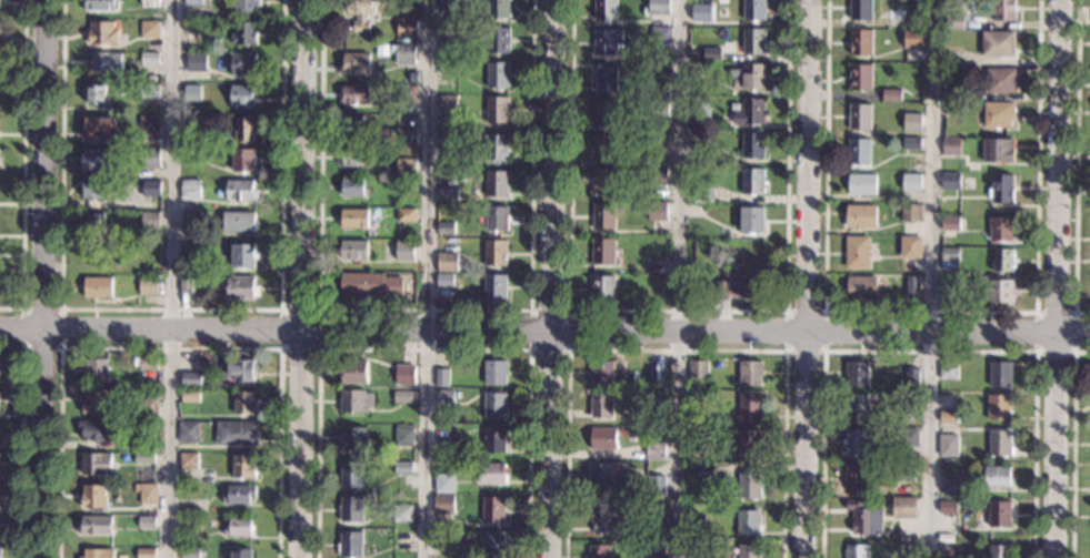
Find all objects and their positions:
building: (193, 2)
building: (150, 3)
building: (101, 4)
building: (243, 6)
building: (659, 7)
building: (447, 8)
building: (497, 9)
building: (604, 9)
building: (753, 9)
building: (861, 9)
building: (1004, 9)
building: (361, 12)
building: (701, 12)
building: (143, 16)
building: (894, 18)
building: (956, 21)
building: (191, 26)
building: (406, 28)
building: (150, 29)
building: (243, 32)
building: (448, 33)
building: (102, 34)
building: (660, 37)
building: (913, 38)
building: (498, 40)
building: (606, 41)
building: (752, 41)
building: (860, 41)
building: (998, 43)
building: (404, 53)
building: (711, 53)
building: (953, 55)
building: (150, 58)
building: (107, 61)
building: (196, 61)
building: (242, 63)
building: (354, 63)
building: (448, 67)
building: (660, 73)
building: (498, 74)
building: (749, 75)
building: (860, 77)
building: (606, 78)
building: (1001, 80)
building: (659, 90)
building: (191, 92)
building: (408, 93)
building: (961, 93)
building: (150, 94)
building: (242, 94)
building: (356, 94)
building: (891, 94)
building: (94, 95)
building: (447, 103)
building: (659, 108)
building: (699, 108)
building: (497, 109)
building: (749, 111)
building: (603, 113)
building: (998, 113)
building: (859, 116)
building: (912, 121)
building: (149, 124)
building: (354, 124)
building: (196, 125)
building: (100, 129)
building: (243, 129)
building: (406, 136)
building: (447, 140)
building: (658, 141)
building: (911, 143)
building: (752, 145)
building: (951, 145)
building: (496, 146)
building: (604, 146)
building: (999, 150)
building: (859, 151)
building: (192, 154)
building: (354, 156)
building: (149, 158)
building: (100, 159)
building: (243, 160)
road: (23, 164)
road: (1076, 164)
building: (406, 166)
building: (656, 173)
building: (951, 180)
building: (603, 181)
building: (752, 181)
building: (911, 182)
building: (496, 183)
building: (862, 184)
building: (351, 186)
building: (151, 187)
building: (93, 189)
building: (190, 189)
building: (1003, 189)
building: (240, 190)
building: (702, 192)
building: (448, 194)
building: (656, 211)
building: (911, 212)
building: (403, 214)
building: (603, 215)
building: (860, 216)
building: (496, 217)
building: (353, 219)
building: (752, 220)
building: (150, 221)
building: (191, 221)
building: (239, 222)
building: (93, 223)
building: (950, 223)
building: (444, 227)
building: (1002, 229)
building: (911, 247)
building: (353, 250)
building: (403, 250)
building: (603, 251)
building: (190, 252)
building: (494, 252)
building: (857, 252)
building: (751, 253)
building: (949, 253)
building: (242, 255)
building: (698, 257)
building: (1003, 260)
building: (446, 261)
road: (43, 278)
road: (171, 278)
road: (297, 278)
road: (426, 278)
road: (547, 278)
road: (807, 278)
road: (929, 278)
road: (1060, 278)
building: (443, 280)
road: (678, 280)
building: (184, 284)
building: (369, 284)
building: (912, 284)
building: (148, 286)
building: (949, 286)
building: (97, 287)
building: (239, 287)
building: (494, 287)
building: (739, 287)
building: (861, 287)
building: (602, 288)
building: (1001, 291)
road: (170, 310)
road: (319, 310)
road: (426, 311)
road: (677, 311)
road: (930, 313)
road: (544, 328)
road: (58, 346)
road: (169, 347)
road: (422, 347)
road: (567, 348)
road: (674, 348)
road: (821, 348)
road: (928, 348)
road: (1073, 351)
building: (144, 363)
building: (698, 368)
building: (241, 369)
building: (656, 369)
building: (96, 371)
building: (604, 371)
building: (948, 371)
building: (353, 372)
building: (494, 372)
building: (750, 373)
building: (858, 373)
building: (403, 374)
building: (1001, 374)
building: (912, 376)
building: (440, 377)
building: (190, 379)
building: (456, 394)
building: (401, 395)
building: (443, 395)
building: (189, 396)
building: (657, 399)
building: (697, 399)
building: (97, 400)
building: (354, 400)
building: (243, 403)
building: (493, 405)
building: (749, 405)
building: (600, 406)
building: (147, 407)
building: (857, 407)
building: (999, 407)
building: (909, 408)
building: (948, 417)
building: (94, 430)
building: (188, 432)
building: (236, 433)
building: (402, 436)
building: (908, 436)
building: (353, 438)
building: (602, 438)
building: (493, 439)
road: (20, 442)
building: (748, 442)
building: (856, 442)
building: (137, 443)
building: (1000, 443)
building: (948, 445)
road: (1073, 446)
building: (654, 450)
building: (696, 450)
building: (143, 457)
building: (188, 460)
building: (94, 464)
building: (242, 466)
building: (402, 467)
building: (703, 471)
building: (490, 473)
building: (350, 474)
building: (904, 474)
building: (602, 476)
building: (999, 477)
building: (857, 478)
building: (443, 483)
building: (656, 484)
building: (750, 485)
building: (951, 486)
building: (136, 487)
building: (148, 494)
building: (239, 494)
building: (93, 497)
building: (443, 504)
building: (948, 506)
building: (903, 507)
building: (351, 509)
building: (492, 509)
building: (401, 513)
building: (1000, 514)
building: (601, 516)
building: (861, 517)
building: (146, 521)
building: (694, 523)
building: (748, 523)
building: (94, 525)
building: (189, 525)
building: (238, 527)
building: (350, 544)
building: (492, 546)
building: (653, 549)
building: (598, 550)
building: (694, 550)
building: (749, 550)
building: (857, 551)
building: (907, 551)
building: (999, 551)
building: (0, 552)
building: (144, 552)
building: (240, 552)
building: (98, 554)
building: (190, 554)

